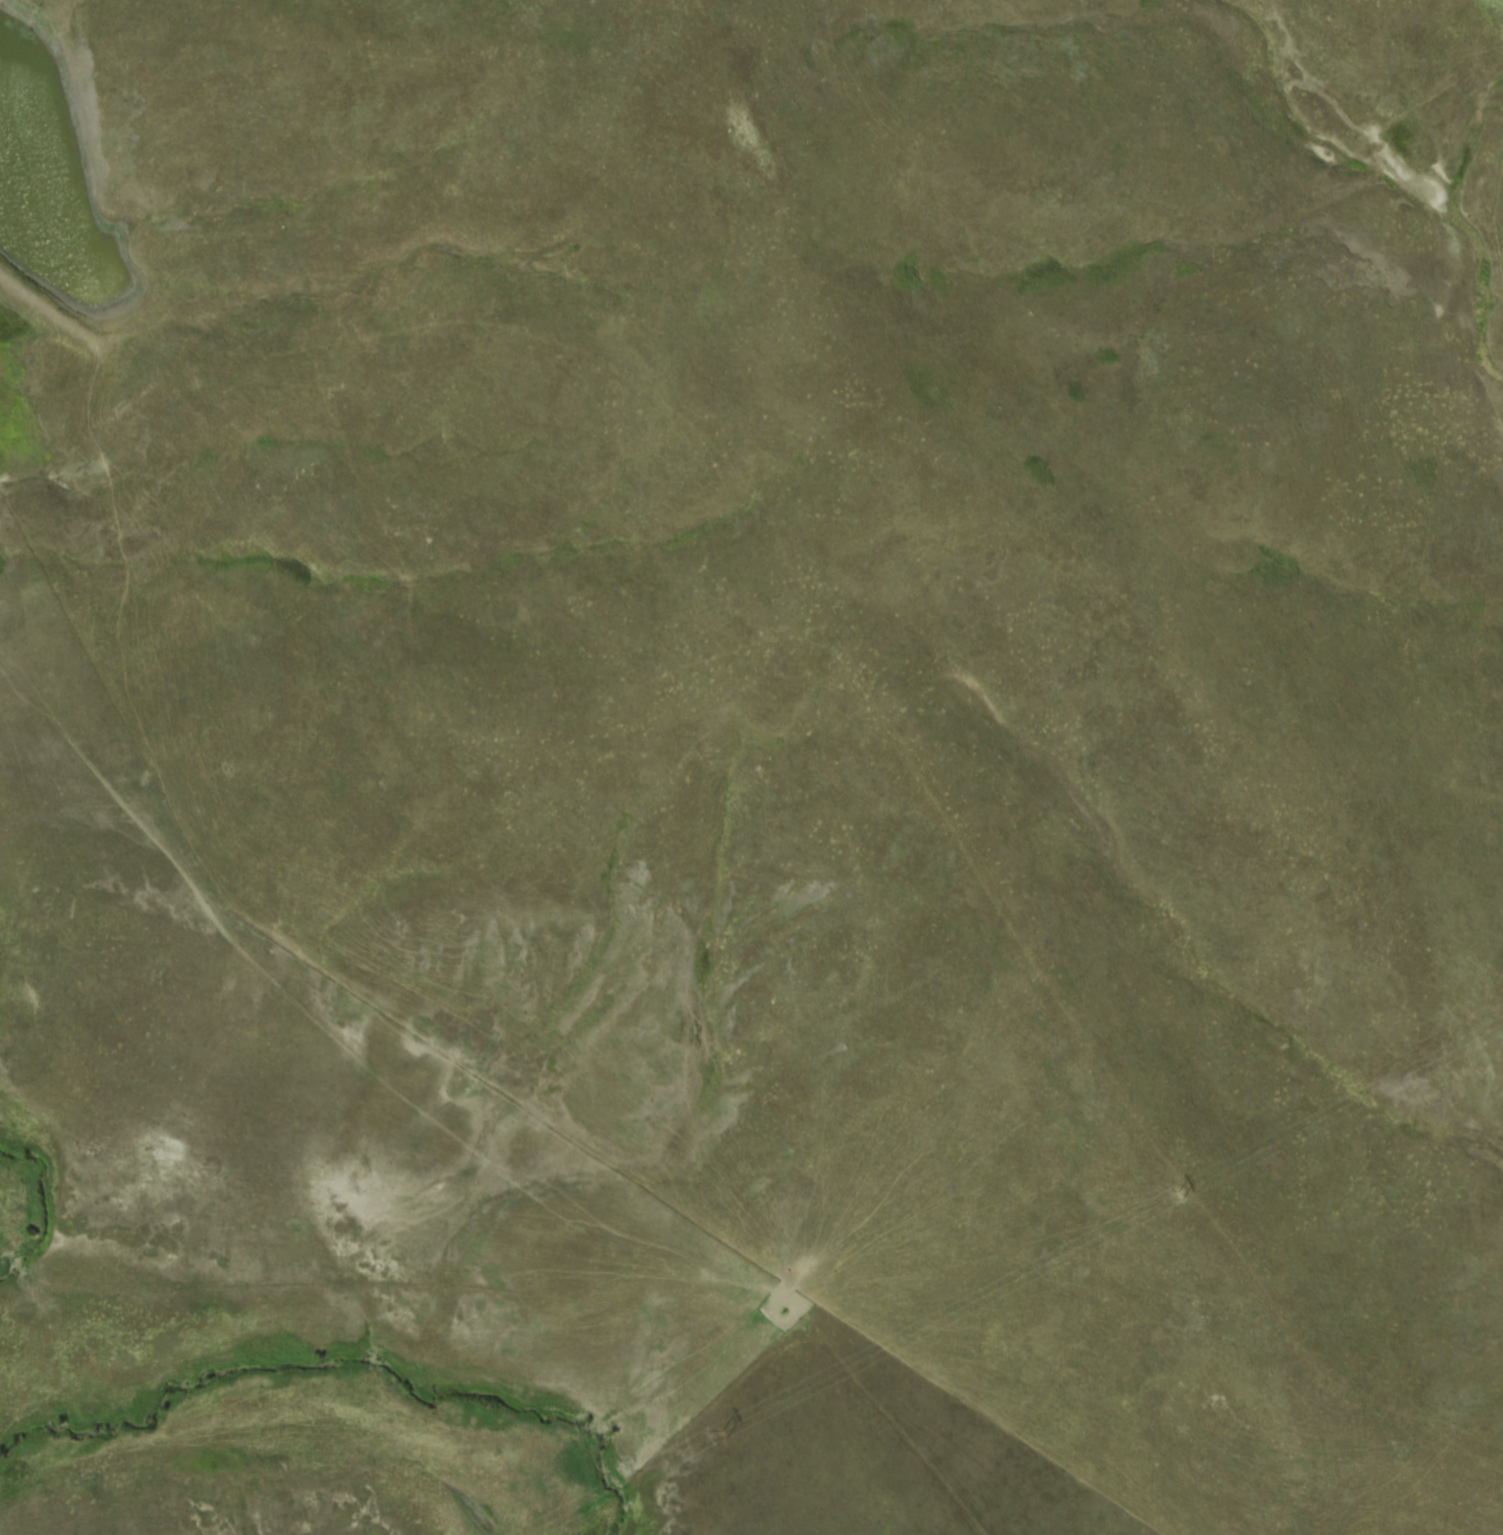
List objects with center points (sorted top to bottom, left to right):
power tower: (1177, 1194)
power tower: (720, 1433)

